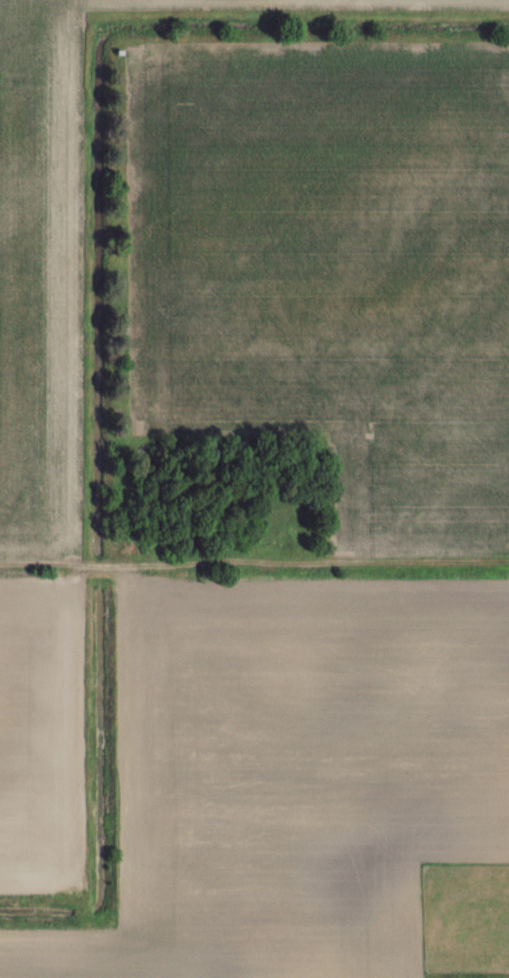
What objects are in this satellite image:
road: (54, 9)

